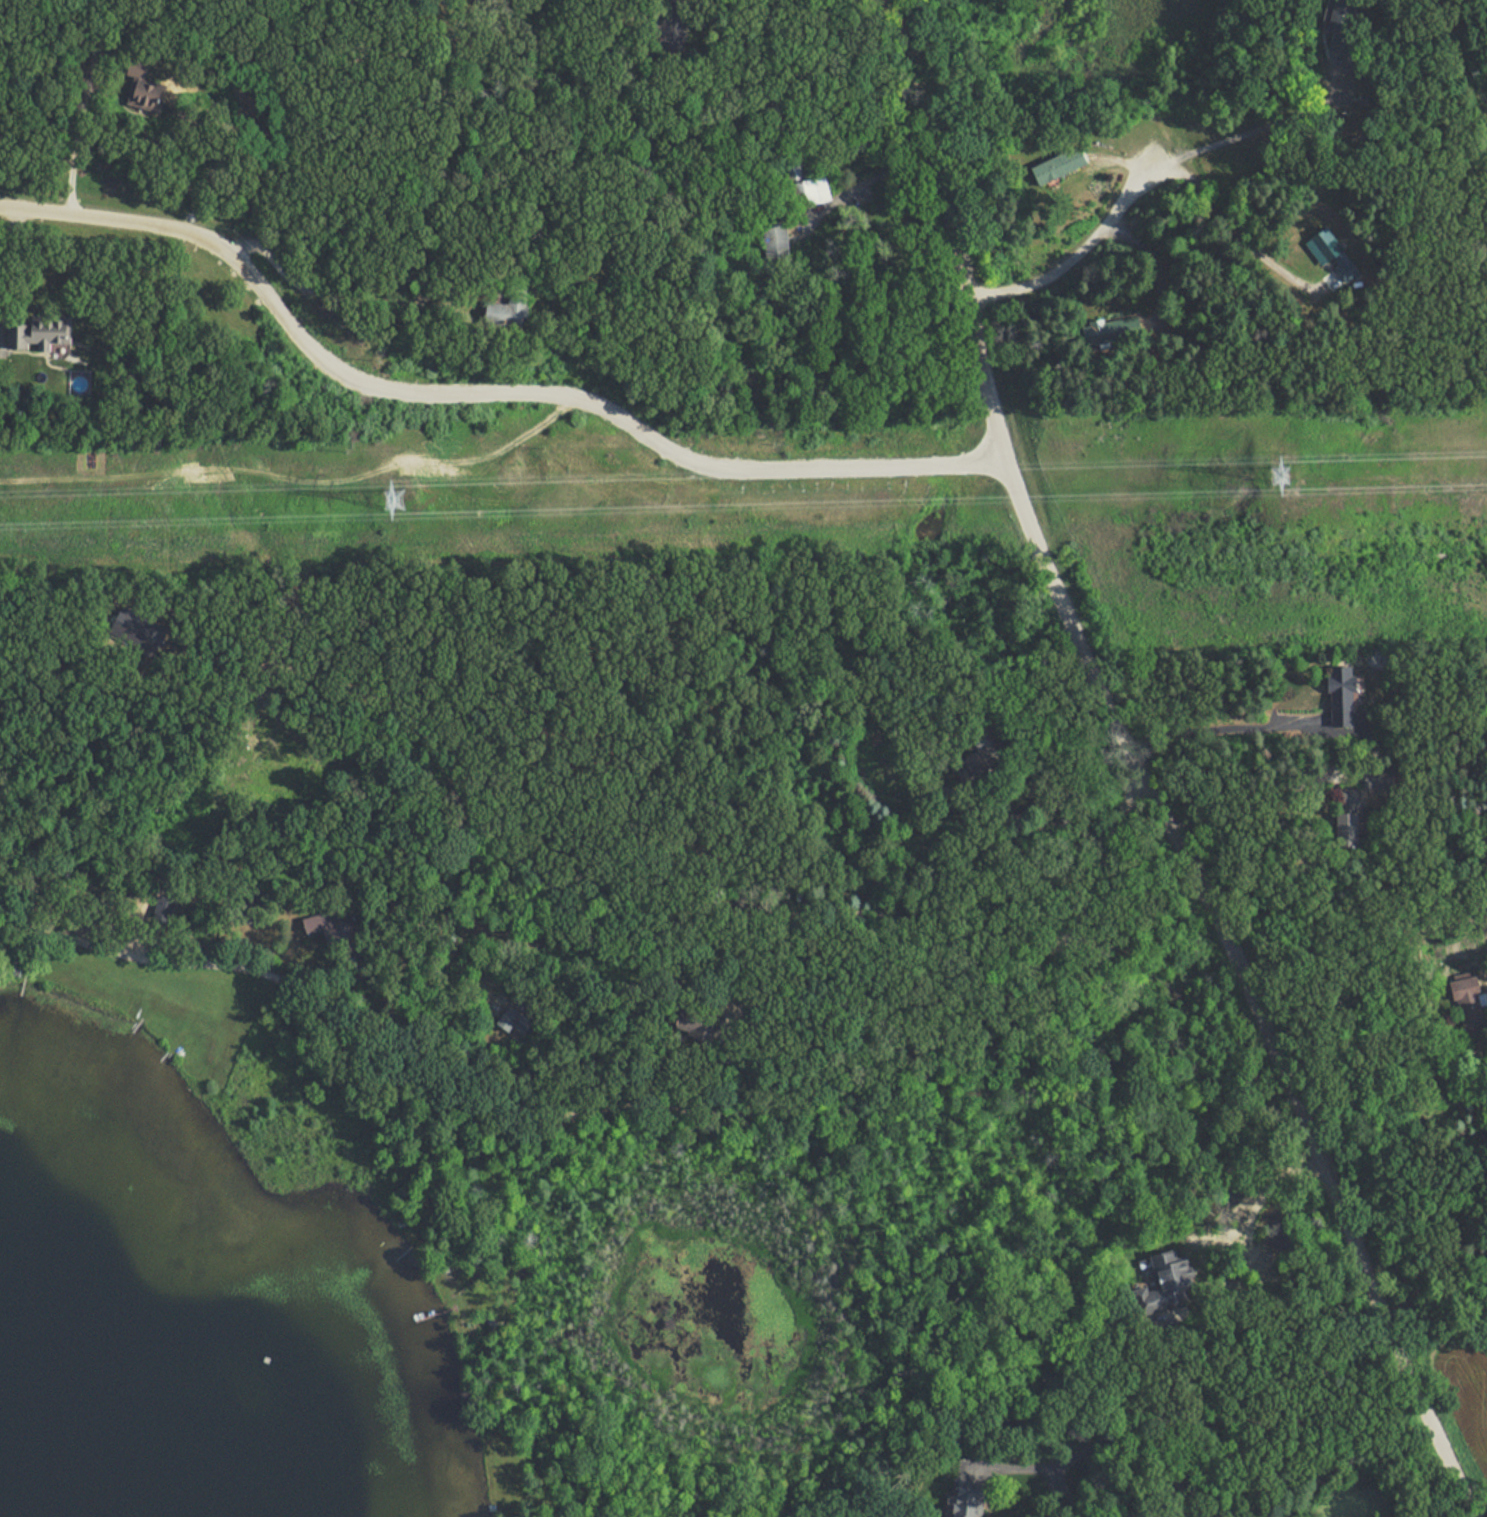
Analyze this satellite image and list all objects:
road: (596, 18)
building: (1335, 23)
road: (1006, 78)
building: (142, 92)
road: (74, 130)
road: (1240, 131)
building: (1054, 170)
building: (806, 186)
road: (1218, 239)
building: (1324, 246)
road: (1073, 257)
road: (330, 282)
building: (508, 312)
building: (39, 333)
road: (479, 396)
power tower: (1278, 480)
power tower: (396, 503)
building: (1341, 697)
road: (1210, 734)
building: (968, 763)
road: (1141, 773)
building: (1377, 779)
building: (1348, 797)
road: (1251, 805)
building: (164, 911)
building: (322, 926)
building: (1466, 999)
road: (631, 1091)
building: (1172, 1277)
crop: (1471, 1383)
road: (1203, 1432)
building: (968, 1496)

